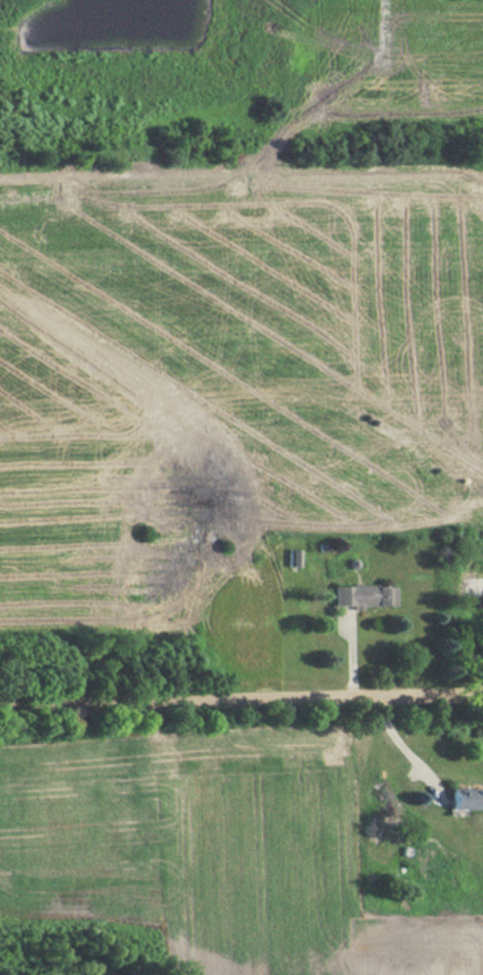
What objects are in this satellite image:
building: (292, 557)
building: (467, 588)
building: (361, 596)
road: (241, 703)
road: (404, 751)
building: (463, 799)

